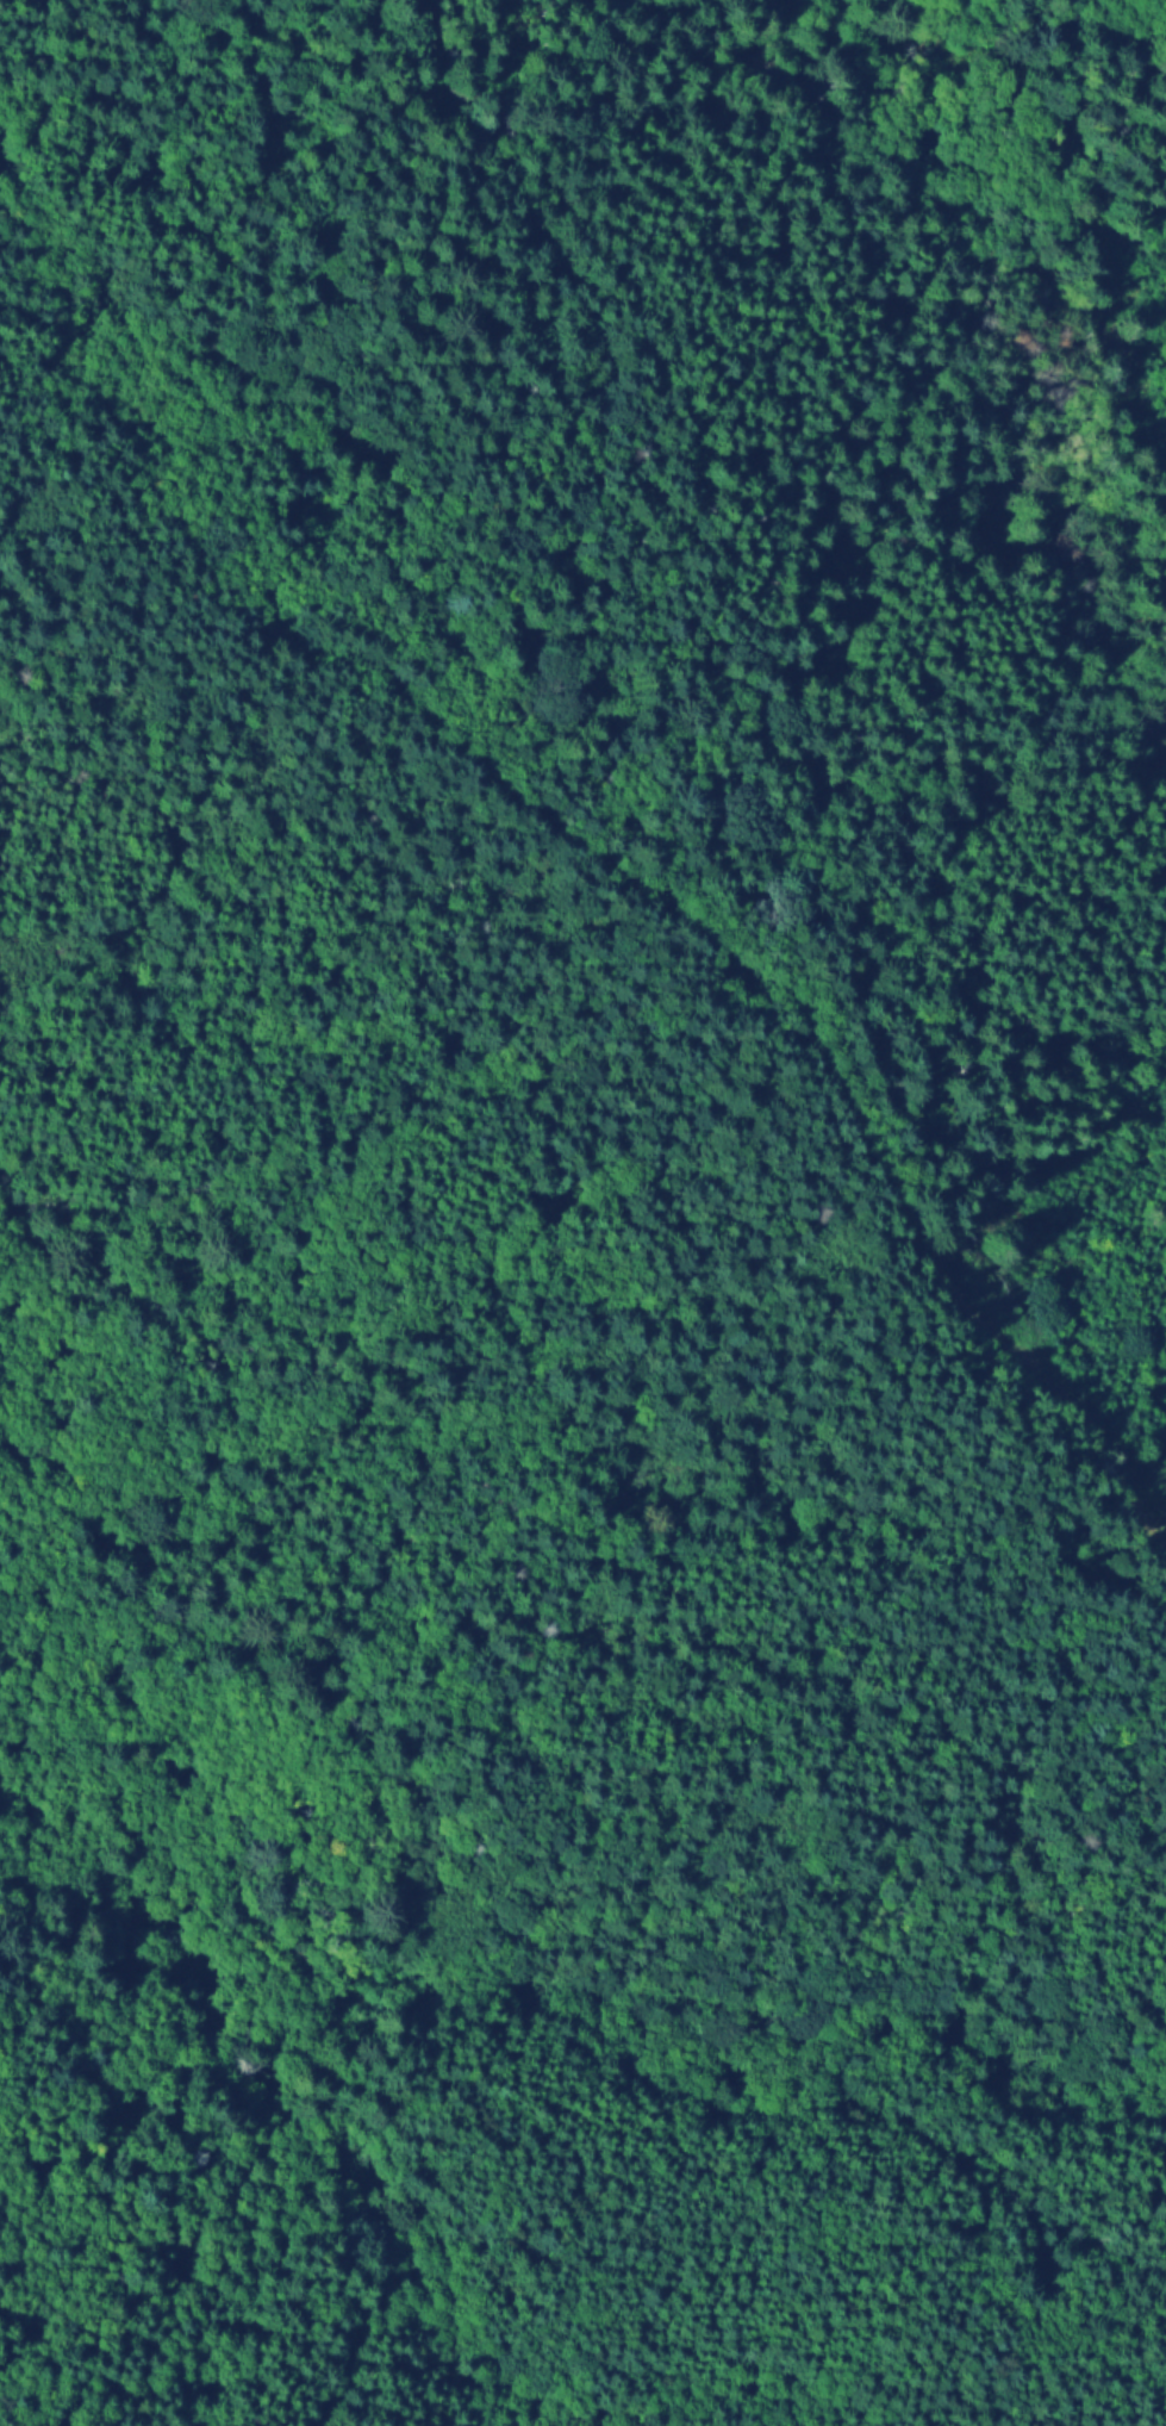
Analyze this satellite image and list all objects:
road: (805, 1010)

